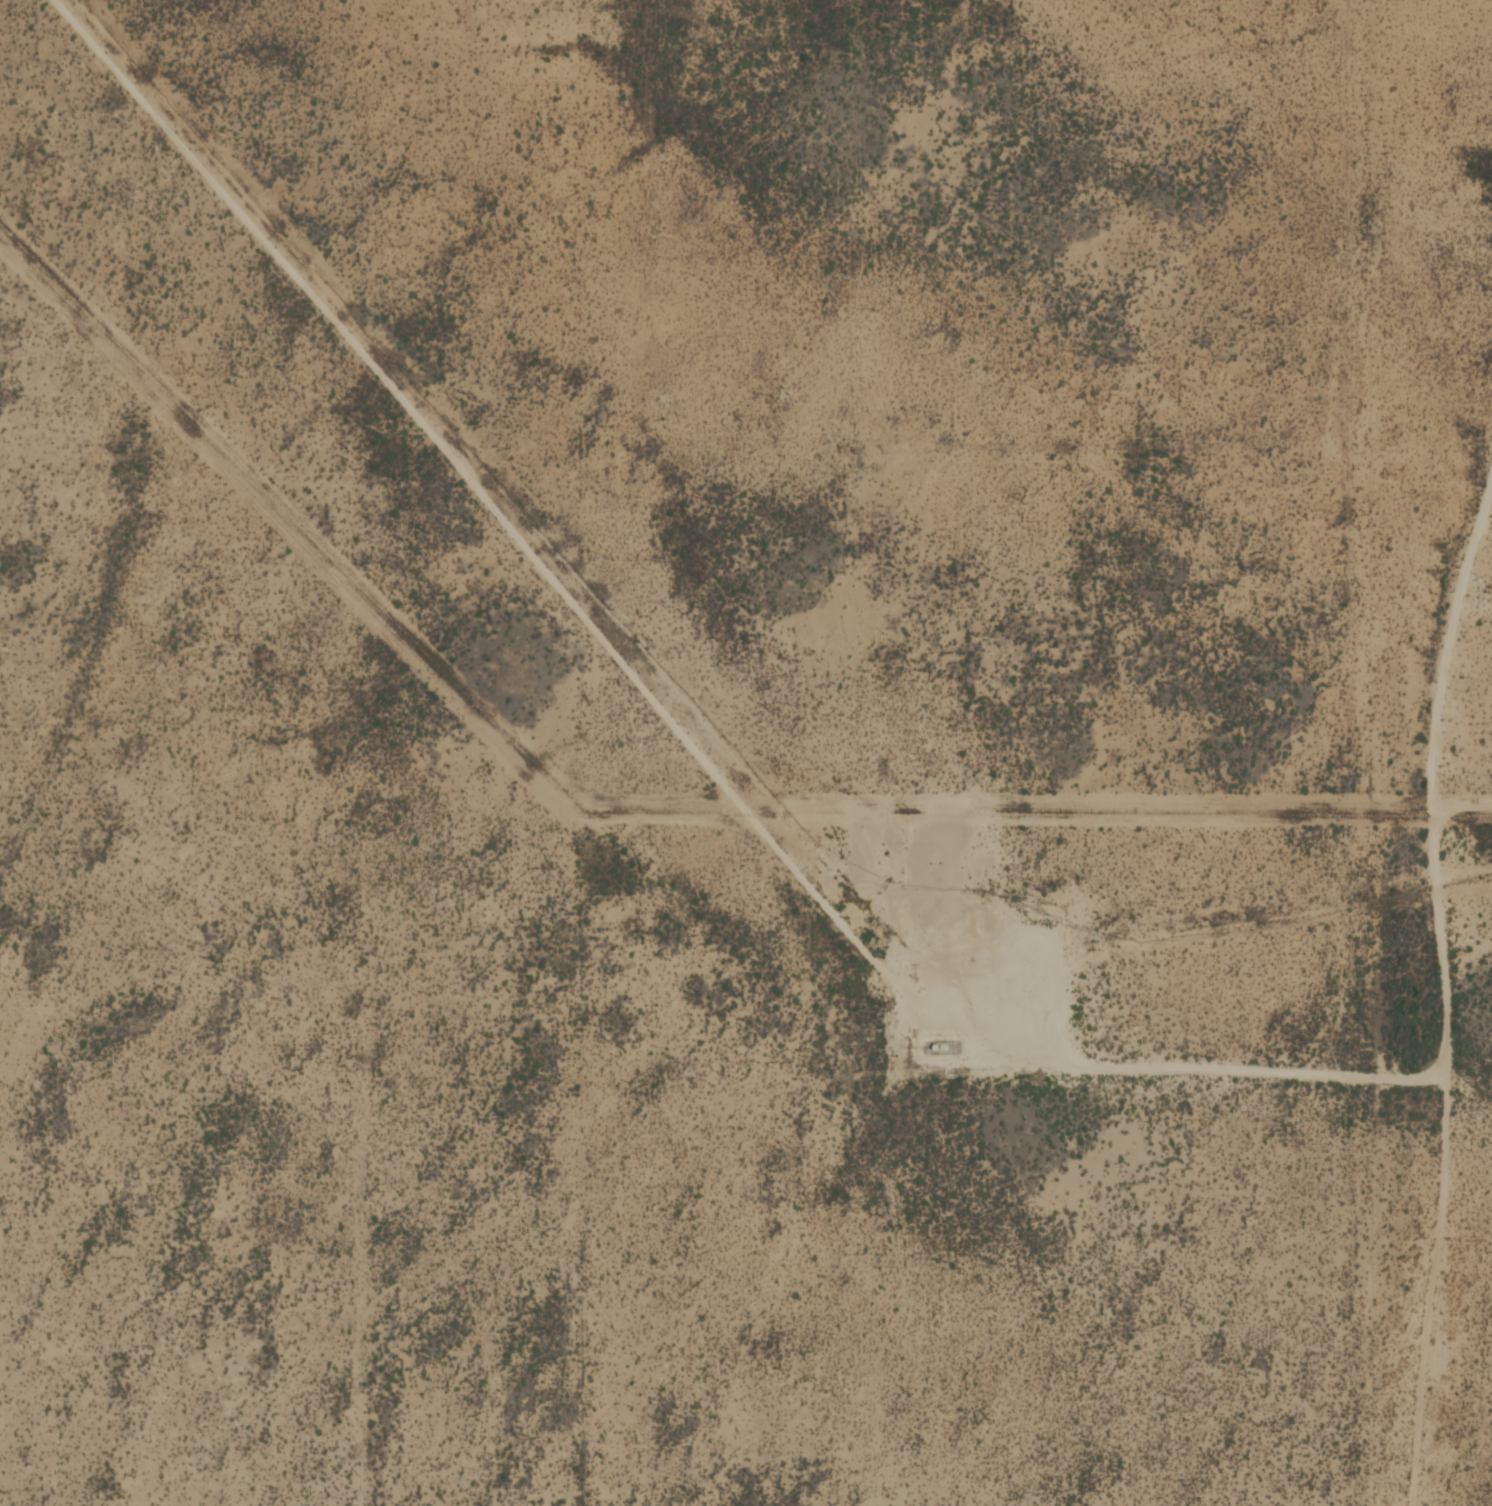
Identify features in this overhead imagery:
road: (548, 570)
road: (1447, 949)

